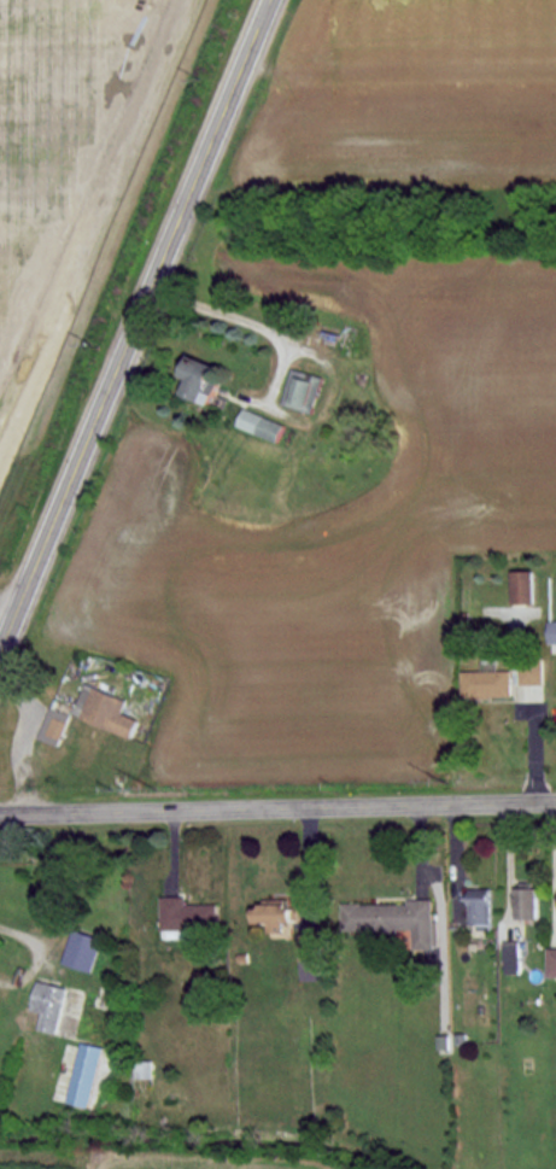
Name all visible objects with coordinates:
road: (134, 323)
building: (200, 379)
building: (300, 390)
building: (259, 423)
building: (522, 586)
building: (551, 631)
building: (531, 672)
building: (485, 683)
building: (105, 709)
building: (54, 725)
road: (277, 802)
building: (527, 902)
building: (481, 905)
building: (275, 912)
building: (187, 913)
building: (393, 918)
building: (82, 949)
building: (311, 955)
building: (511, 955)
building: (551, 961)
building: (49, 1004)
building: (145, 1070)
building: (86, 1074)

